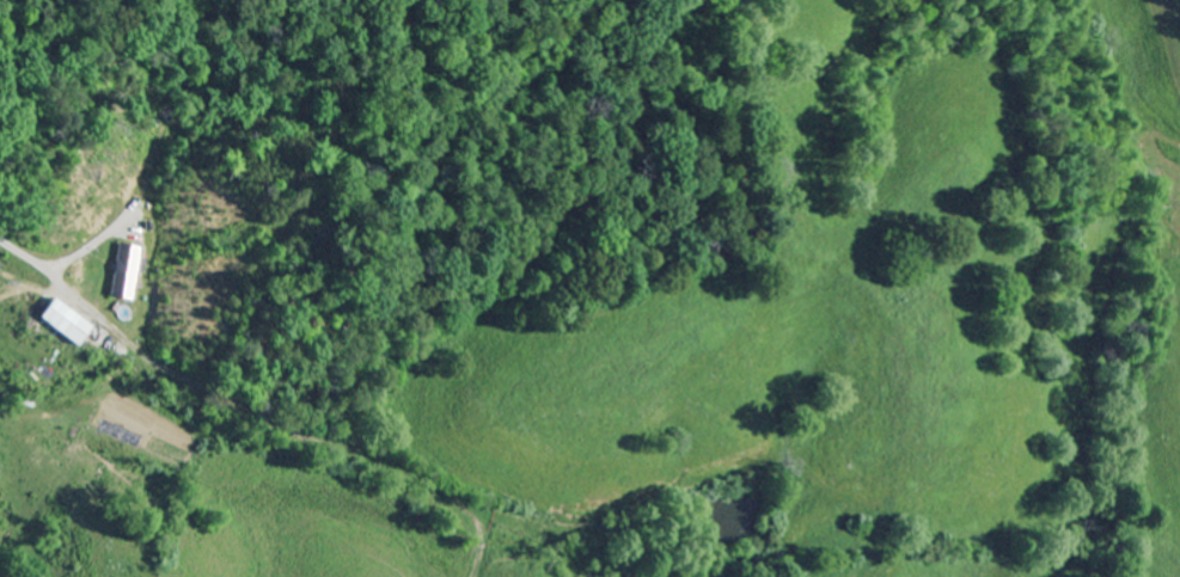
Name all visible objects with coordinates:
building: (126, 271)
building: (62, 323)
road: (252, 413)

